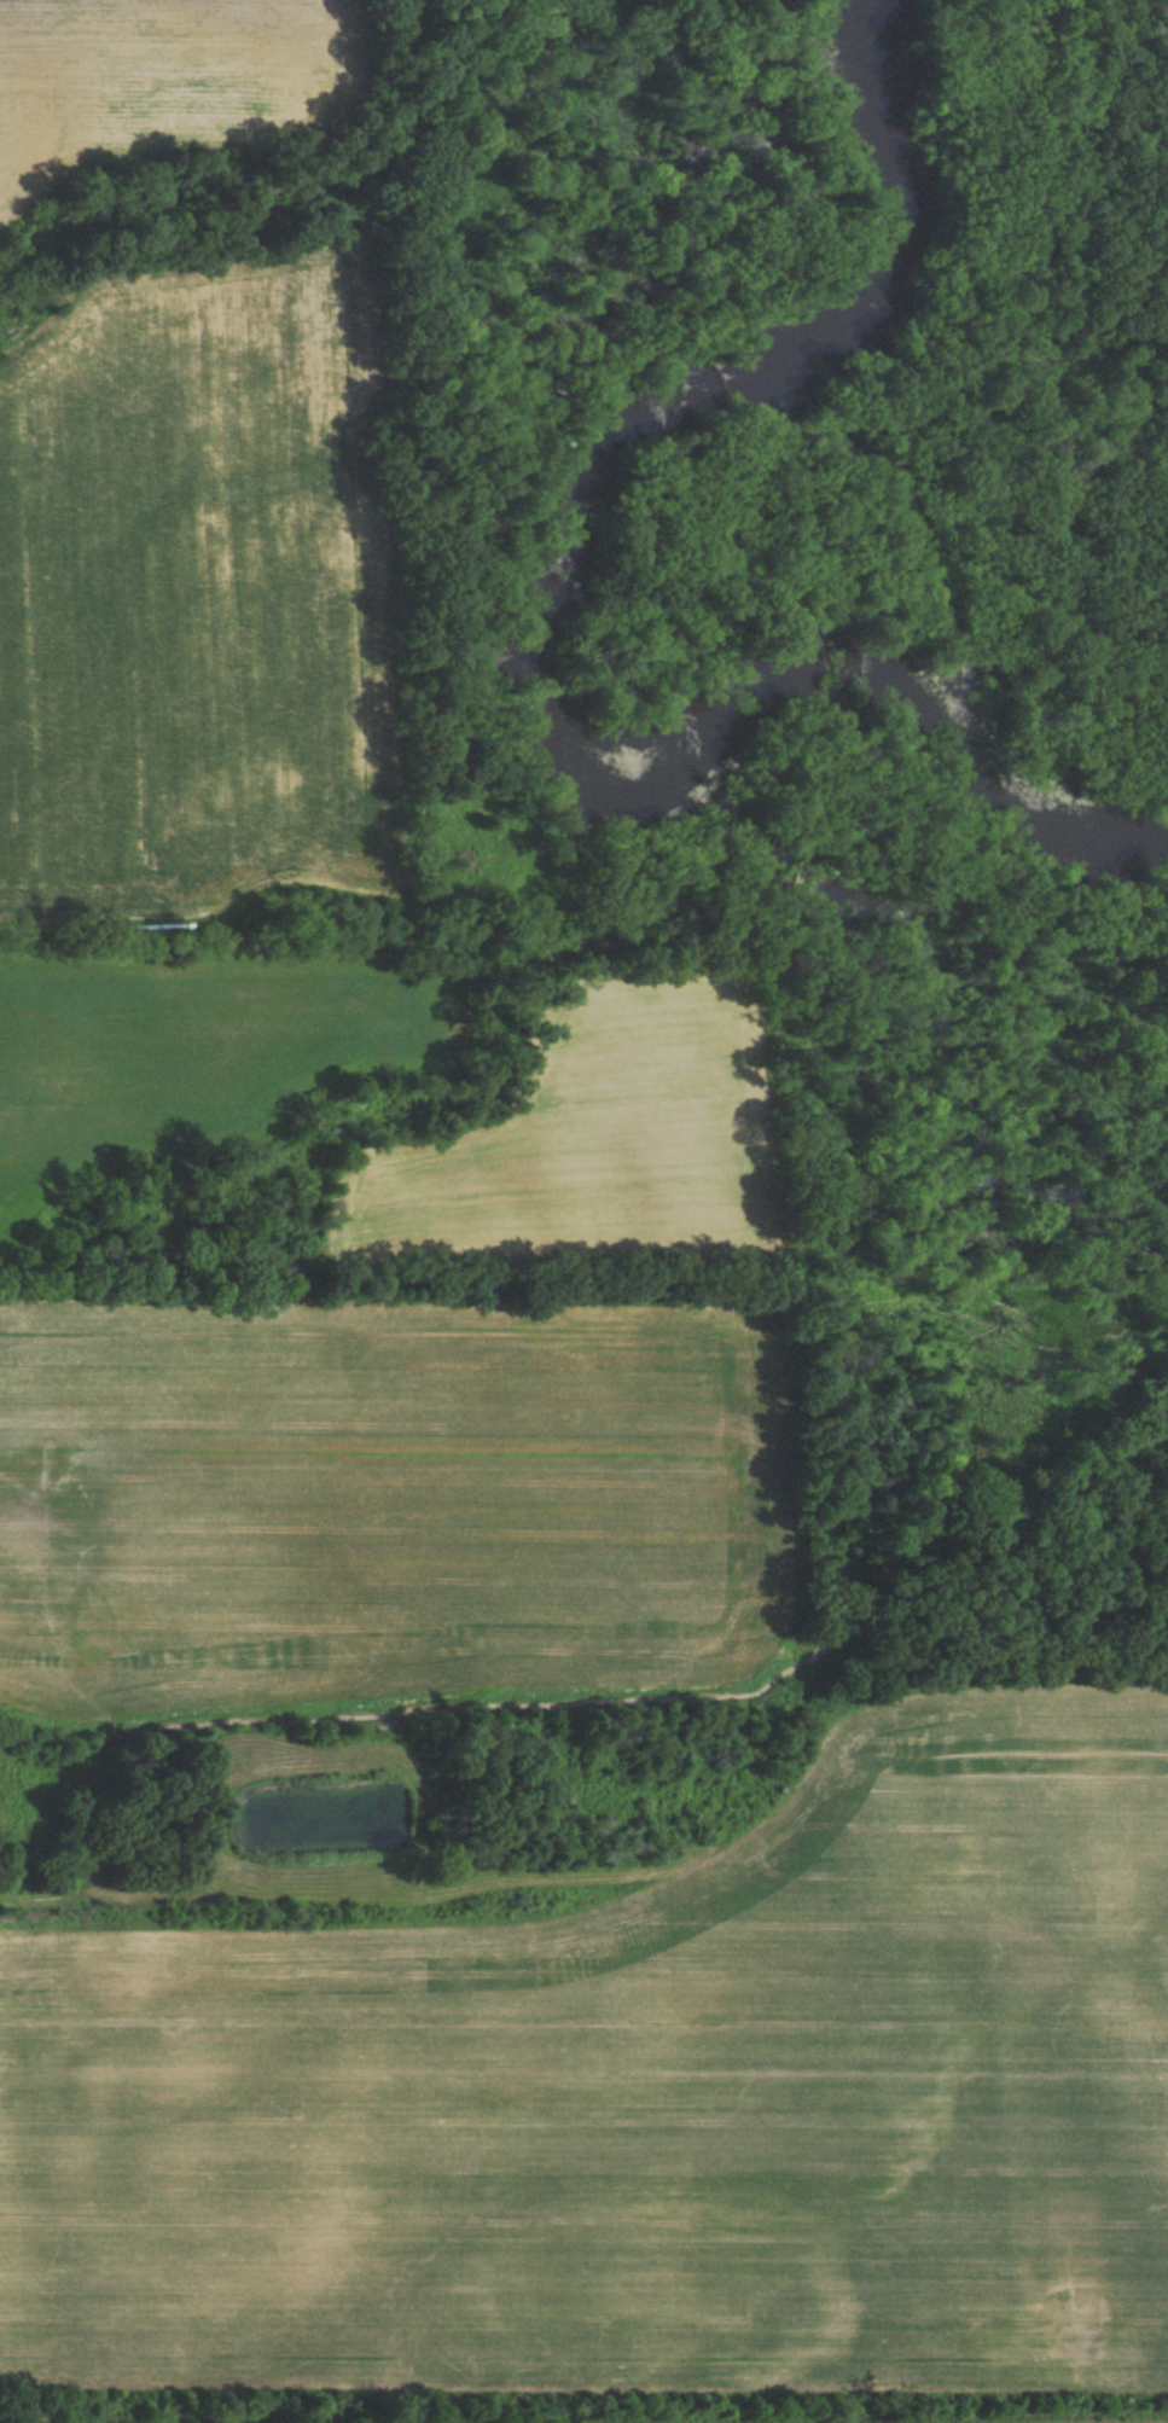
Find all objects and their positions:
river: (557, 649)

